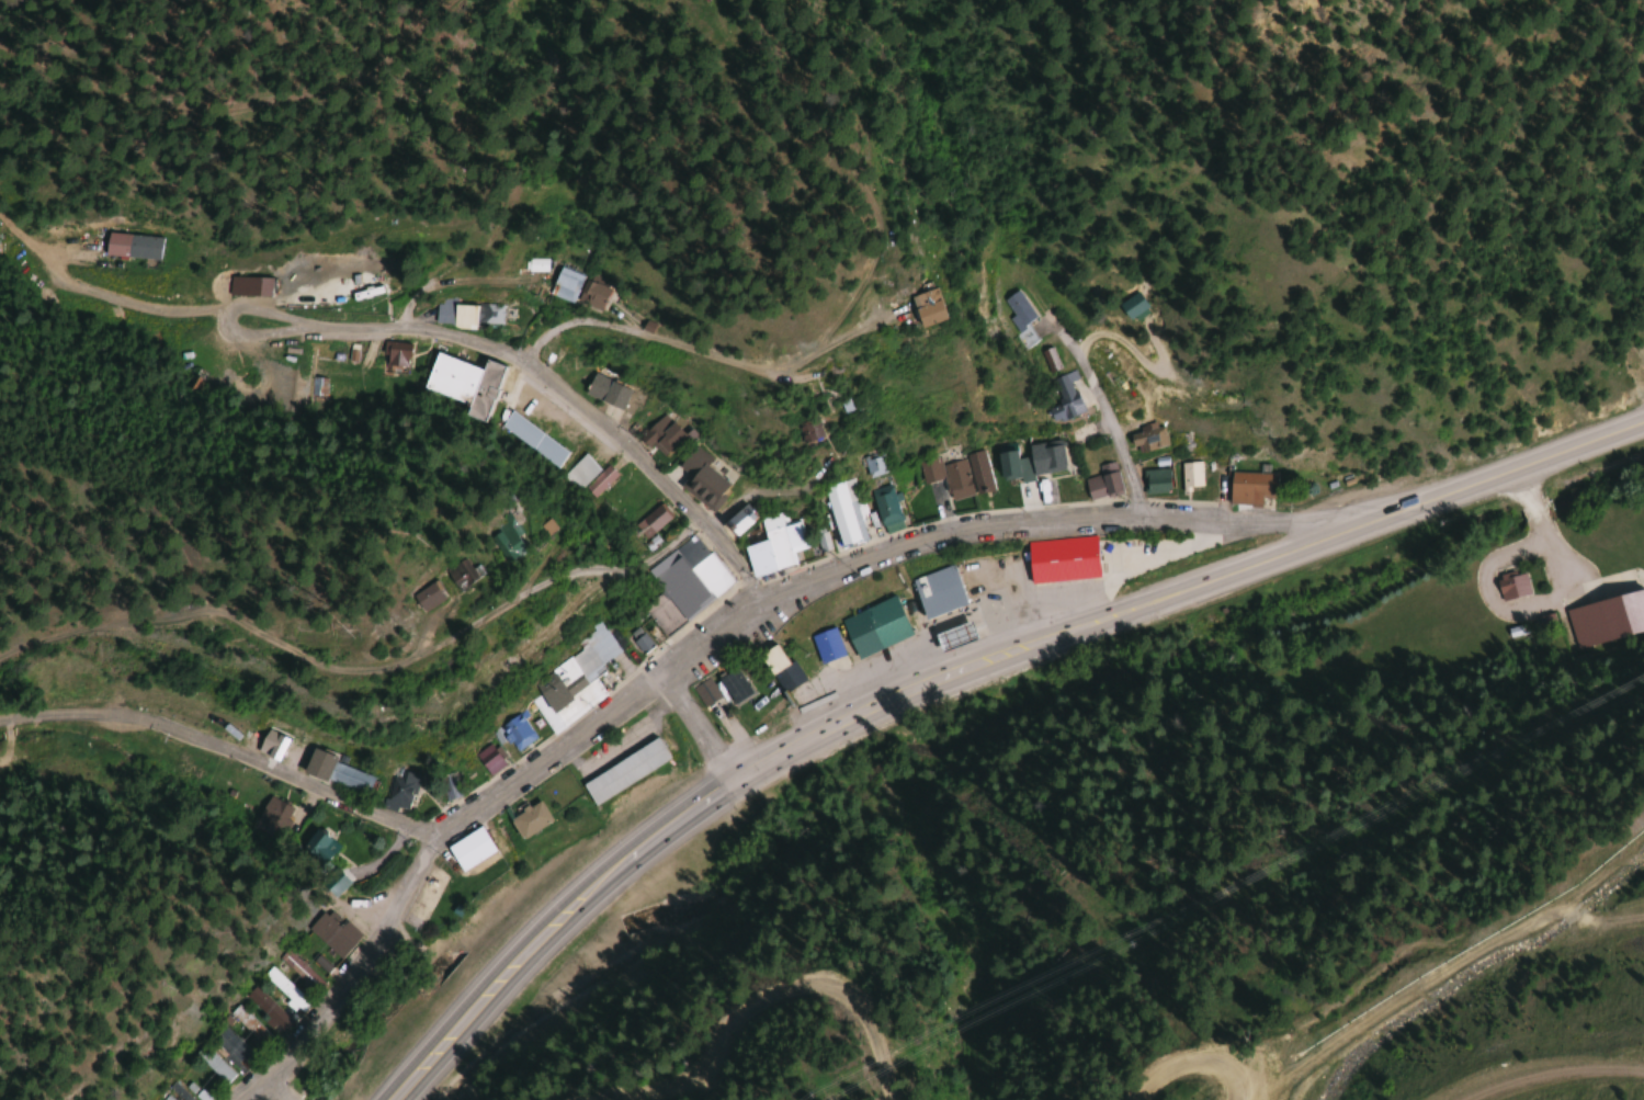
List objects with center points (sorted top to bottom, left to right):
building: (572, 190)
building: (129, 246)
building: (248, 286)
building: (576, 290)
road: (412, 303)
building: (1127, 307)
building: (1017, 311)
building: (453, 314)
building: (918, 315)
road: (486, 339)
road: (684, 344)
building: (549, 353)
building: (395, 359)
building: (463, 384)
building: (317, 387)
building: (604, 392)
building: (1063, 398)
building: (840, 407)
road: (1113, 429)
building: (804, 431)
building: (660, 436)
building: (532, 439)
building: (1146, 440)
building: (1030, 461)
building: (871, 464)
building: (977, 473)
building: (587, 476)
building: (945, 476)
building: (1190, 476)
building: (702, 481)
building: (1155, 481)
building: (1102, 483)
building: (1249, 488)
road: (747, 498)
building: (883, 506)
building: (840, 513)
building: (738, 521)
building: (651, 522)
building: (772, 545)
building: (499, 546)
building: (1061, 560)
building: (1511, 585)
building: (683, 587)
building: (433, 588)
building: (936, 592)
building: (1607, 619)
building: (862, 632)
building: (953, 637)
road: (1063, 640)
road: (711, 642)
building: (640, 644)
building: (575, 667)
road: (361, 670)
building: (779, 670)
building: (733, 688)
building: (704, 693)
road: (698, 730)
building: (515, 733)
road: (225, 750)
building: (488, 760)
building: (623, 772)
building: (336, 774)
building: (398, 792)
building: (273, 814)
building: (528, 821)
building: (316, 847)
building: (468, 850)
building: (335, 932)
building: (301, 971)
building: (285, 989)
building: (267, 1008)
building: (248, 1024)
road: (474, 1028)
building: (231, 1046)
building: (200, 1078)
road: (280, 1087)
building: (179, 1091)

